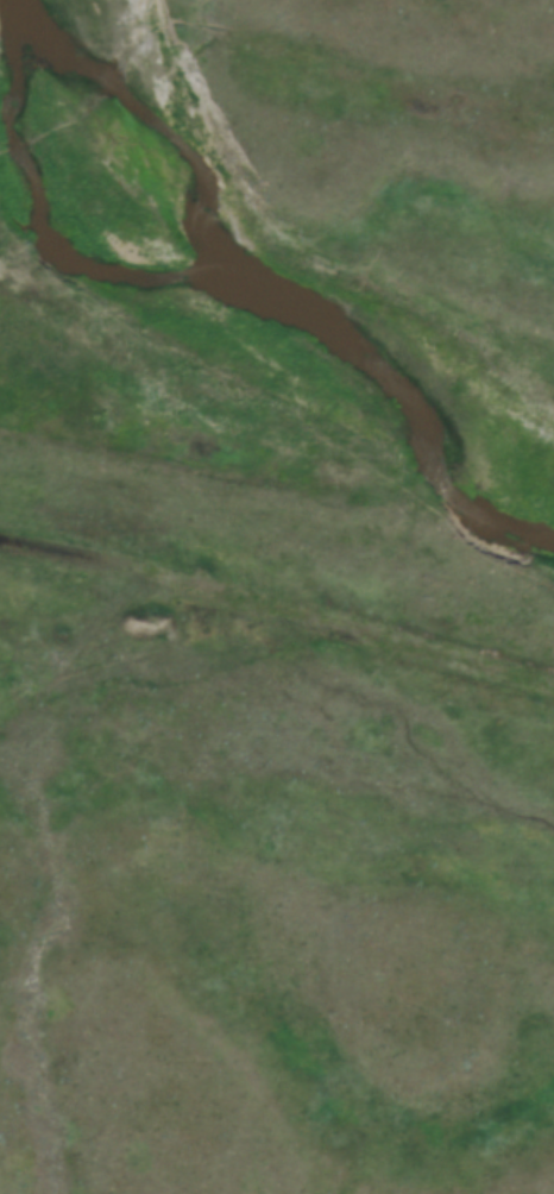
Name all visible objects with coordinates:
river: (265, 288)
road: (277, 607)

